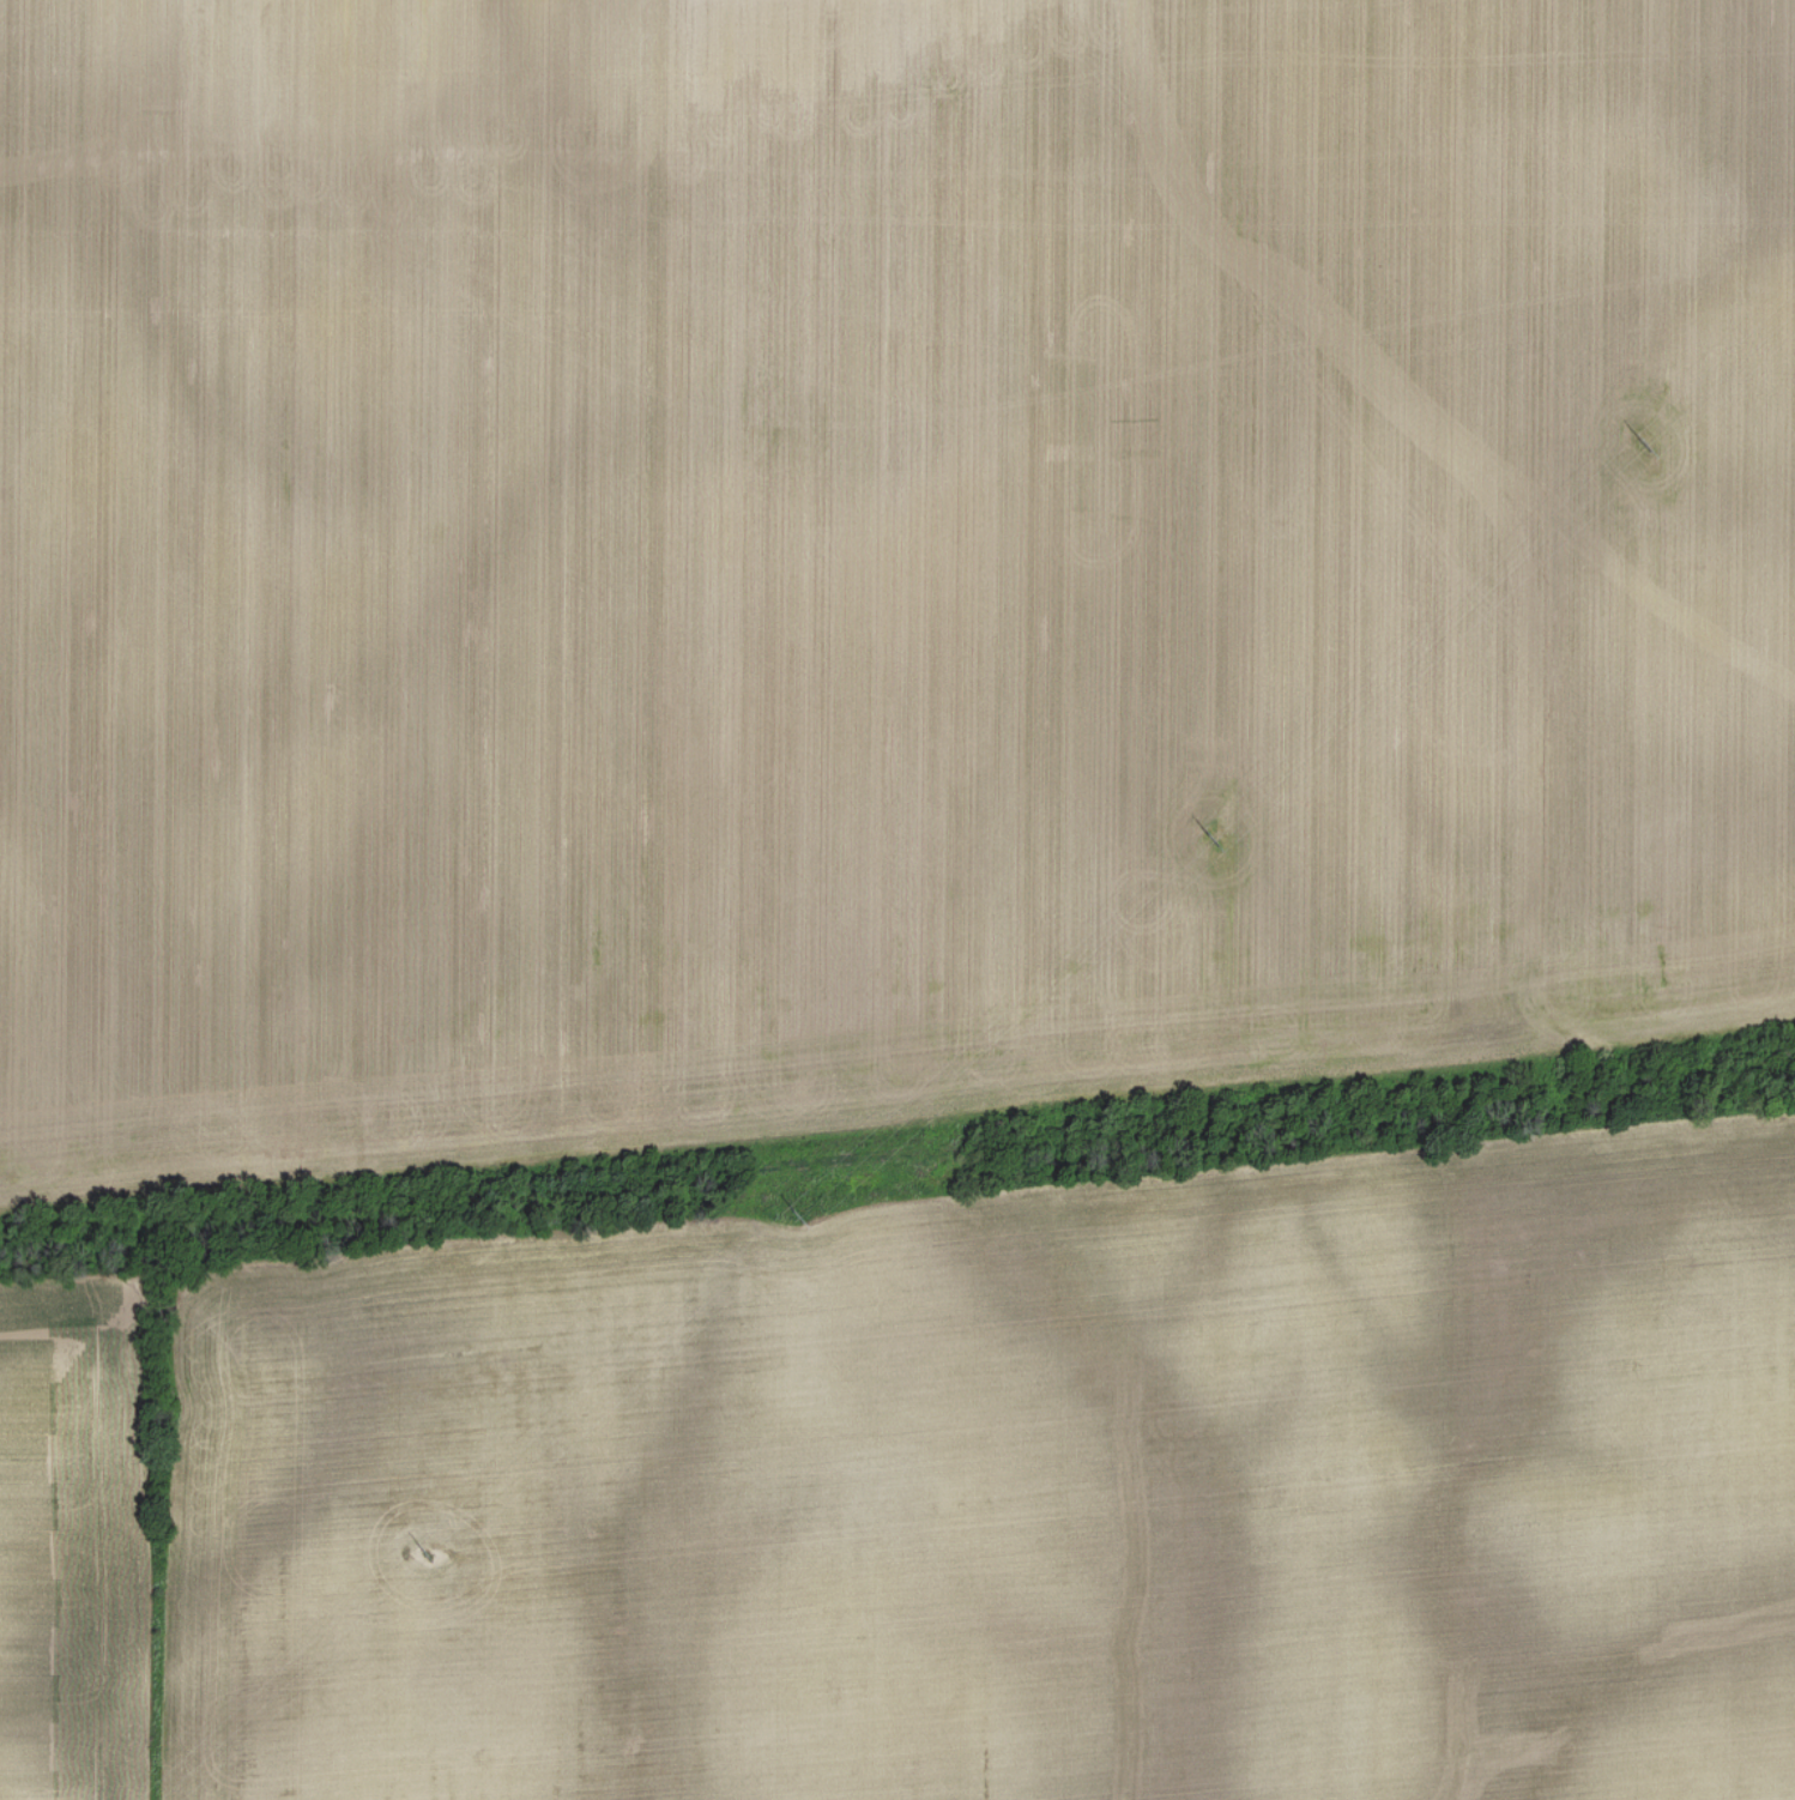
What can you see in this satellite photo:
power tower: (1640, 452)
power tower: (1210, 842)
power tower: (794, 1218)
power tower: (424, 1557)

